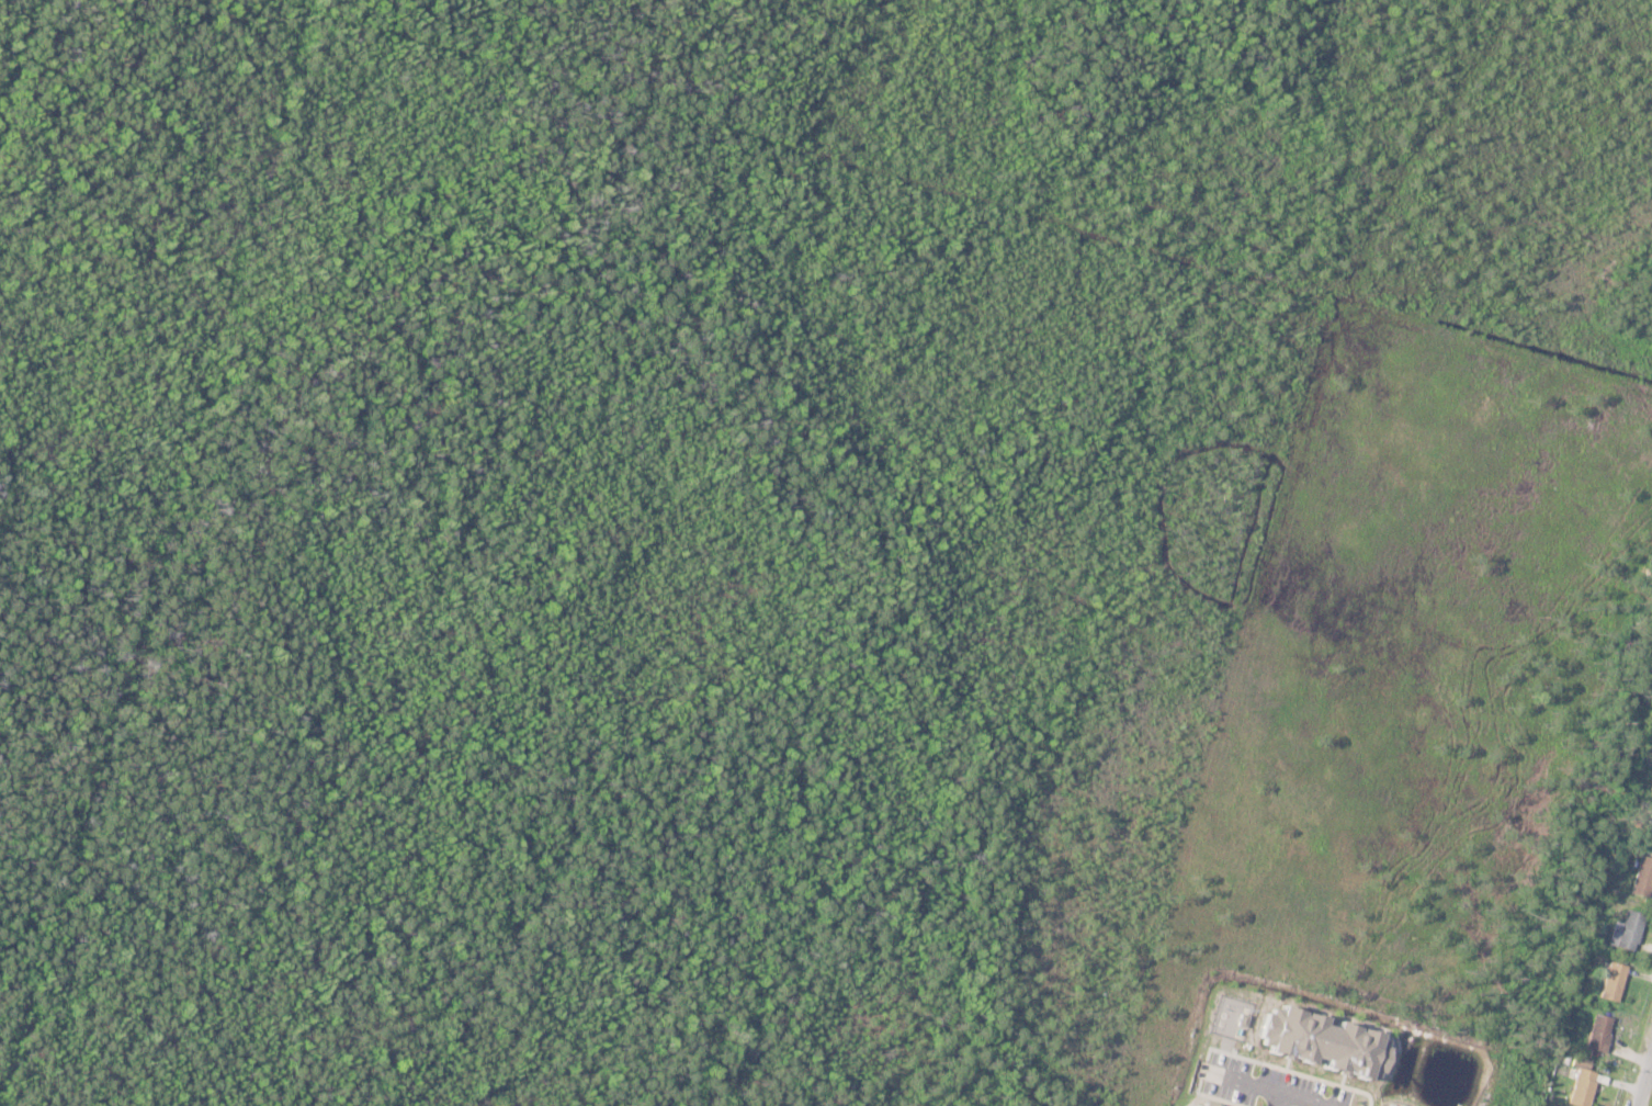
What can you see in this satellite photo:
building: (1650, 828)
building: (1641, 879)
building: (1628, 932)
building: (1611, 983)
building: (1597, 1035)
road: (1642, 1075)
building: (1577, 1085)
road: (1302, 1093)

